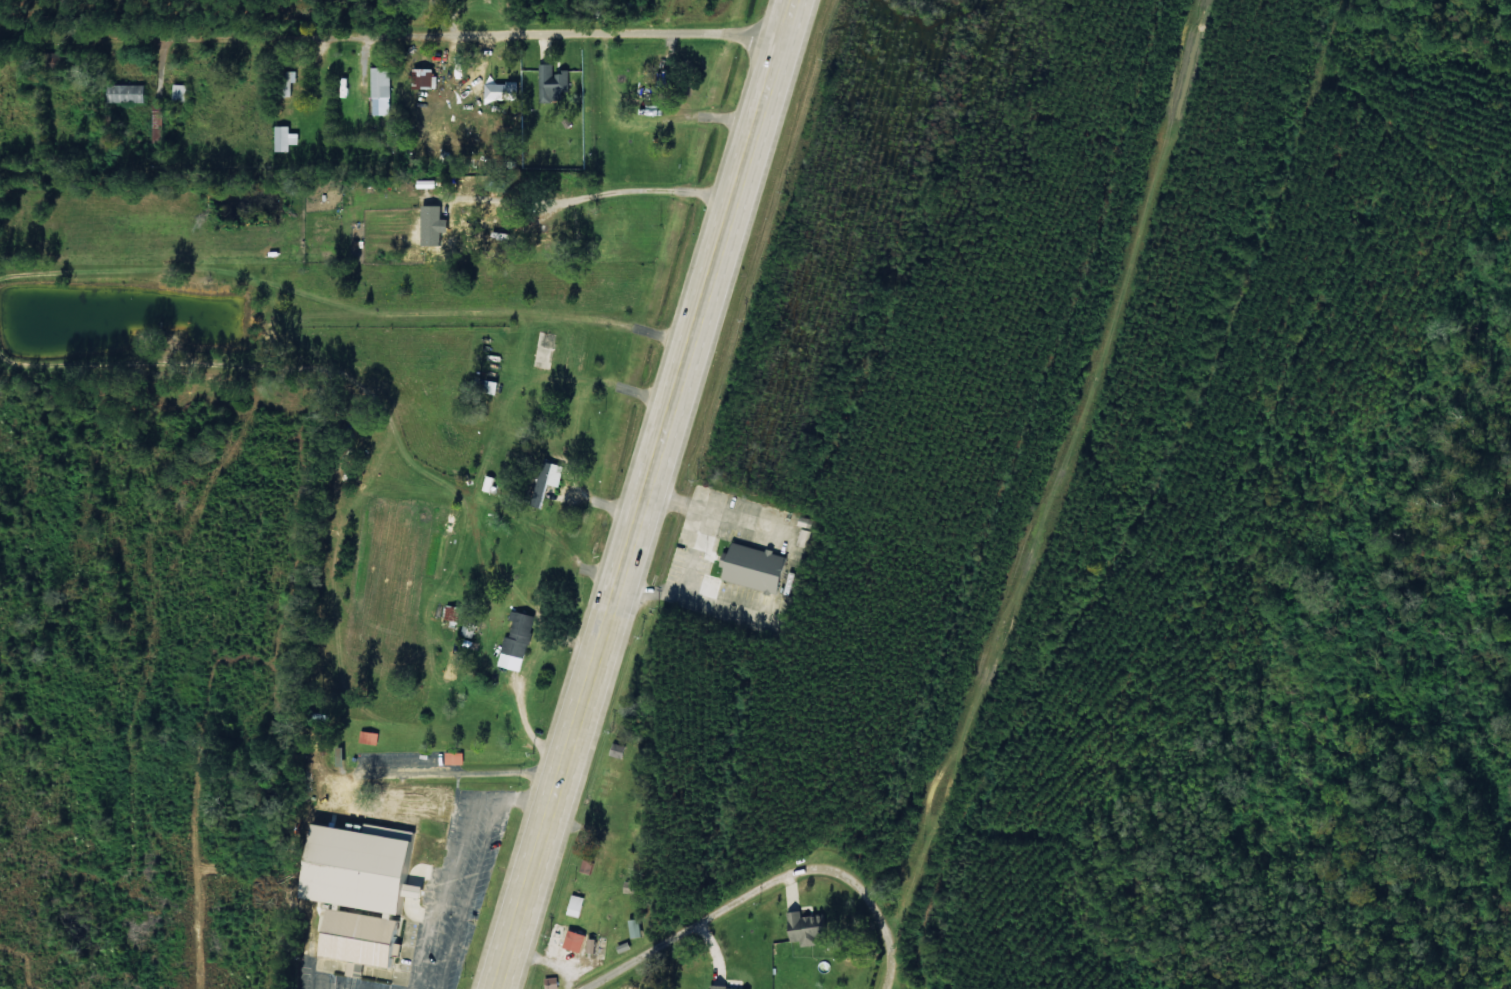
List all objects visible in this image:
road: (388, 52)
building: (426, 77)
building: (554, 82)
building: (383, 89)
building: (128, 93)
building: (182, 94)
building: (287, 138)
road: (476, 368)
building: (491, 483)
road: (644, 494)
road: (1153, 518)
building: (757, 567)
building: (454, 612)
building: (471, 627)
building: (518, 641)
building: (372, 737)
building: (455, 757)
building: (425, 805)
road: (310, 828)
road: (912, 896)
road: (845, 901)
building: (578, 905)
building: (638, 927)
building: (804, 928)
road: (676, 932)
building: (576, 941)
building: (592, 945)
road: (892, 971)
building: (553, 982)
building: (725, 988)

